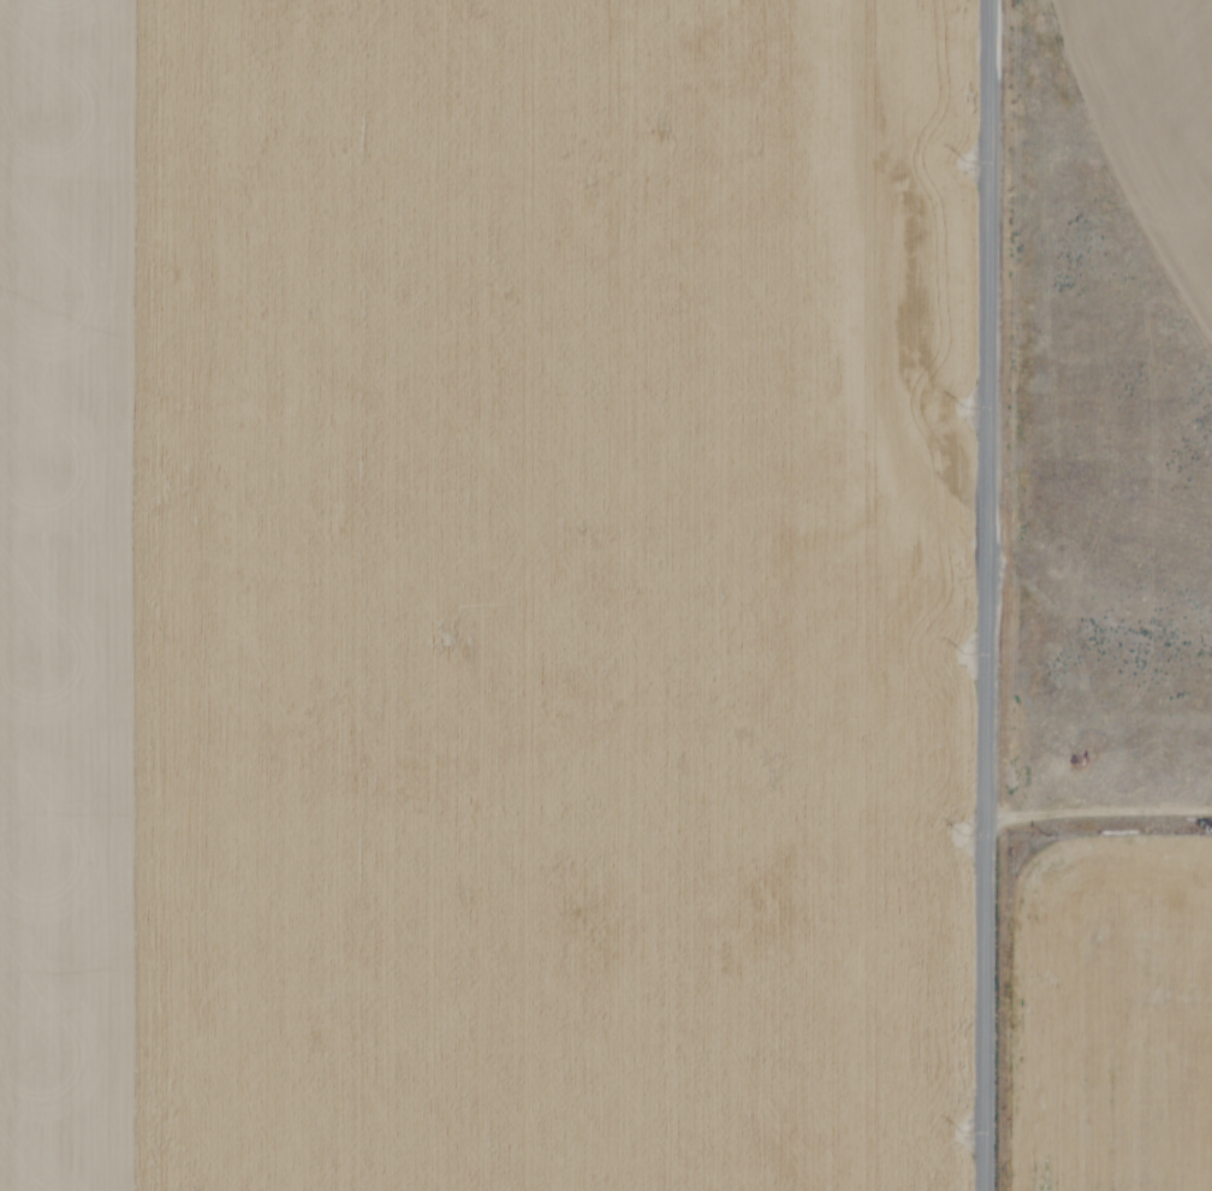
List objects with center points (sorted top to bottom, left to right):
road: (986, 595)

